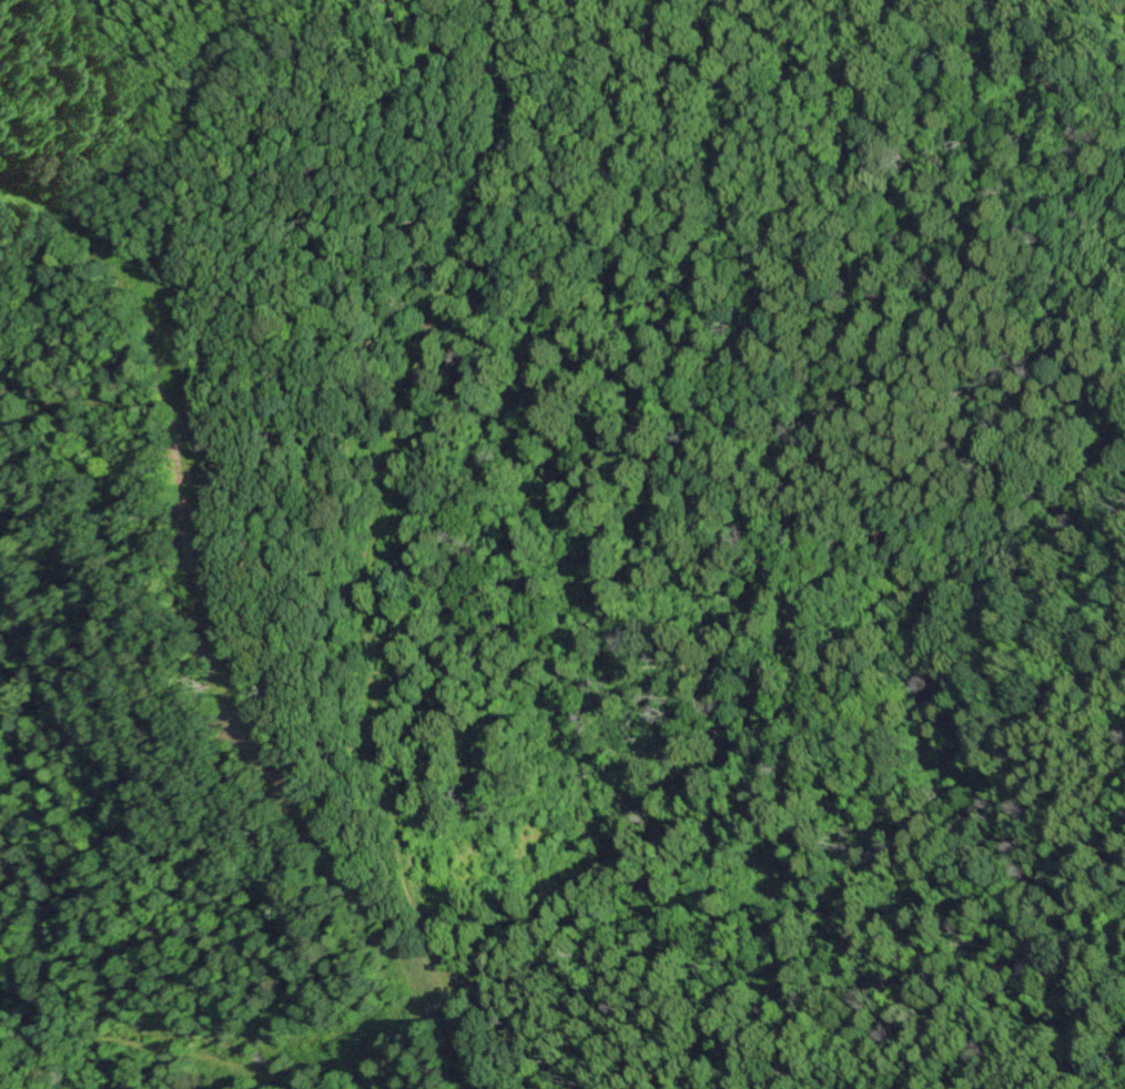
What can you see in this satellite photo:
road: (448, 969)
road: (149, 1045)

